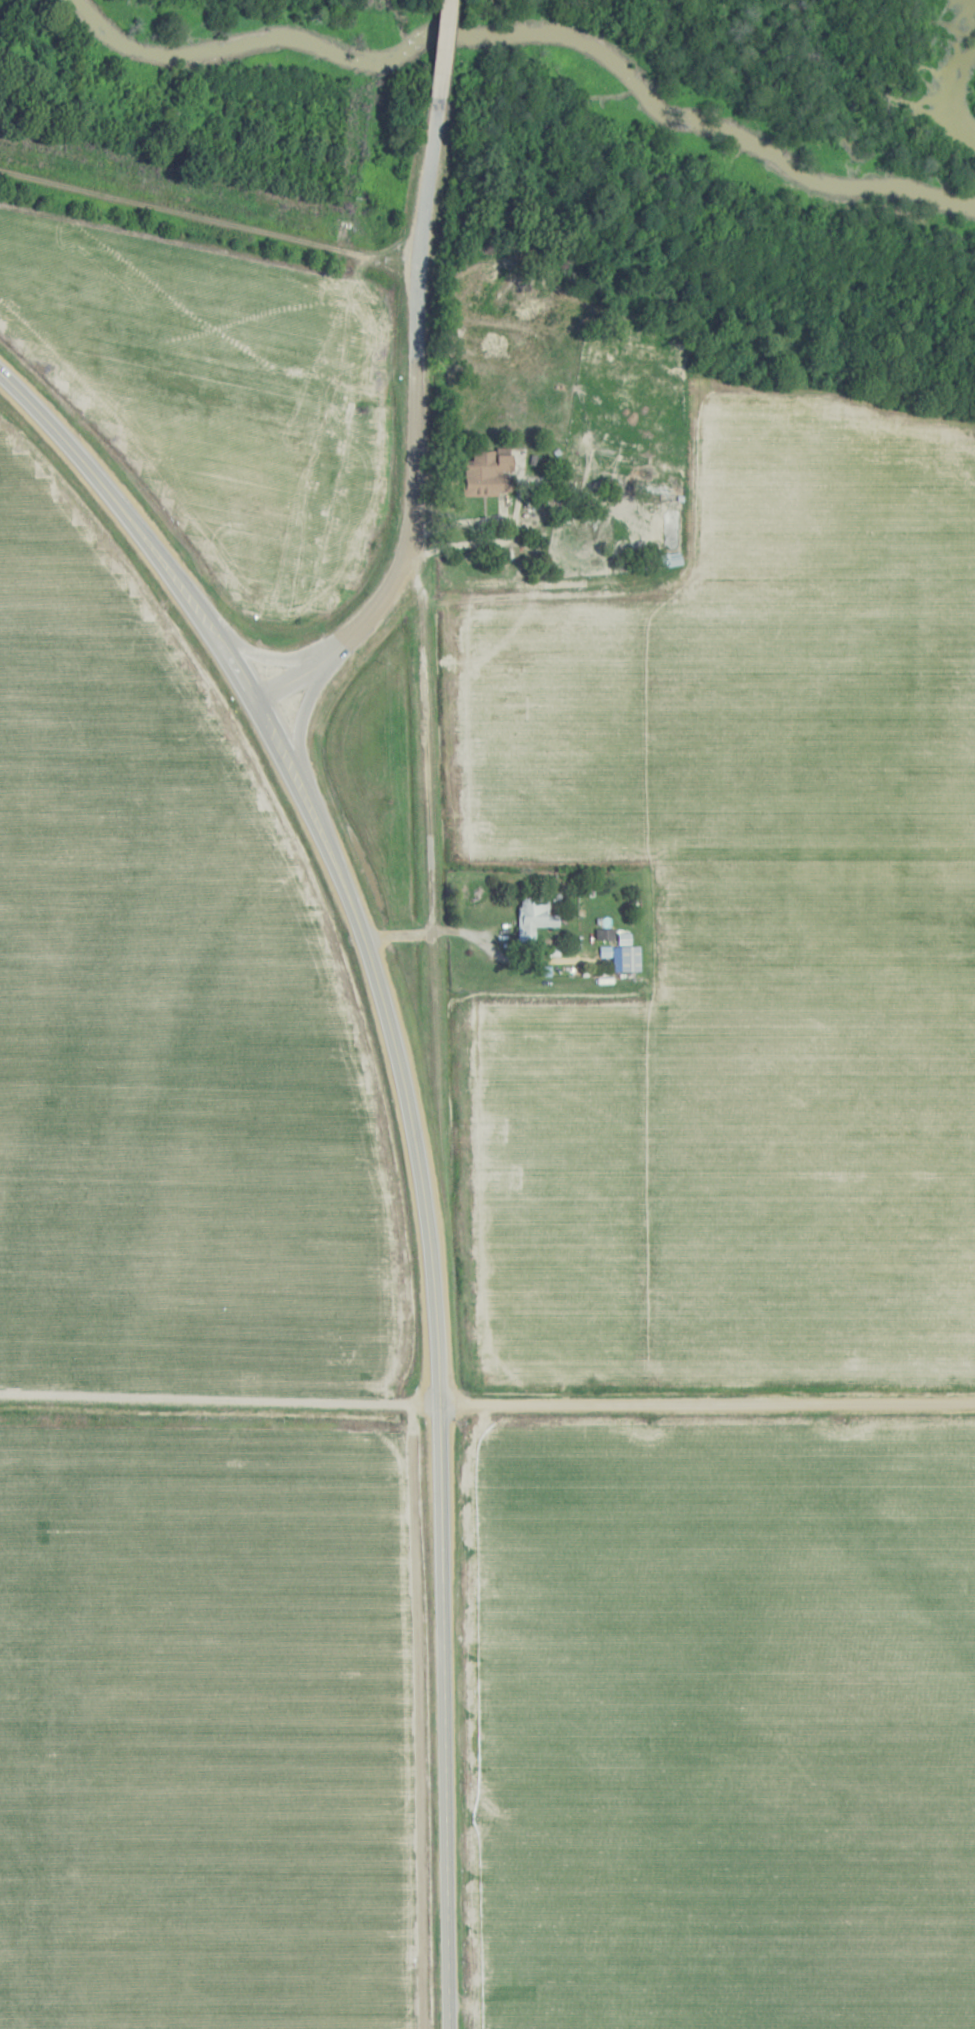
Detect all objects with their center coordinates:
road: (410, 383)
building: (481, 477)
building: (536, 916)
road: (452, 933)
building: (626, 958)
road: (415, 1141)
road: (707, 1402)

